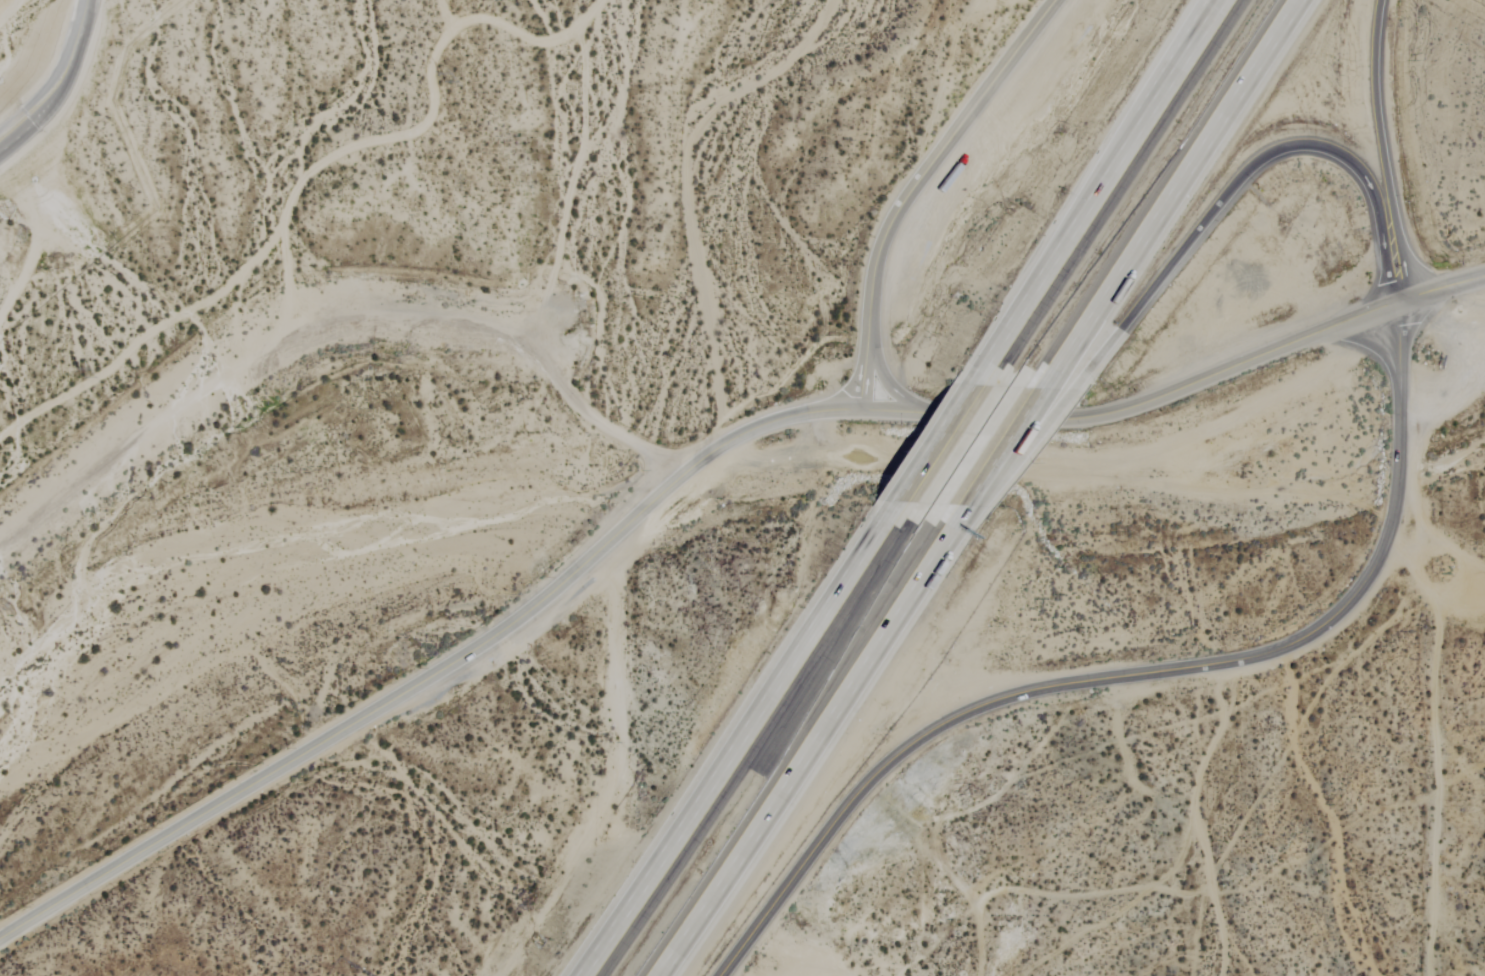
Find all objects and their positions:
road: (1191, 42)
power tower: (401, 111)
road: (1387, 151)
road: (1252, 170)
road: (1109, 178)
road: (1174, 182)
road: (920, 186)
road: (480, 319)
power tower: (88, 366)
road: (897, 383)
road: (938, 438)
road: (1003, 439)
road: (1020, 446)
road: (691, 475)
railway: (942, 488)
road: (950, 524)
road: (1140, 673)
road: (740, 748)
road: (803, 754)
airport: (341, 970)

